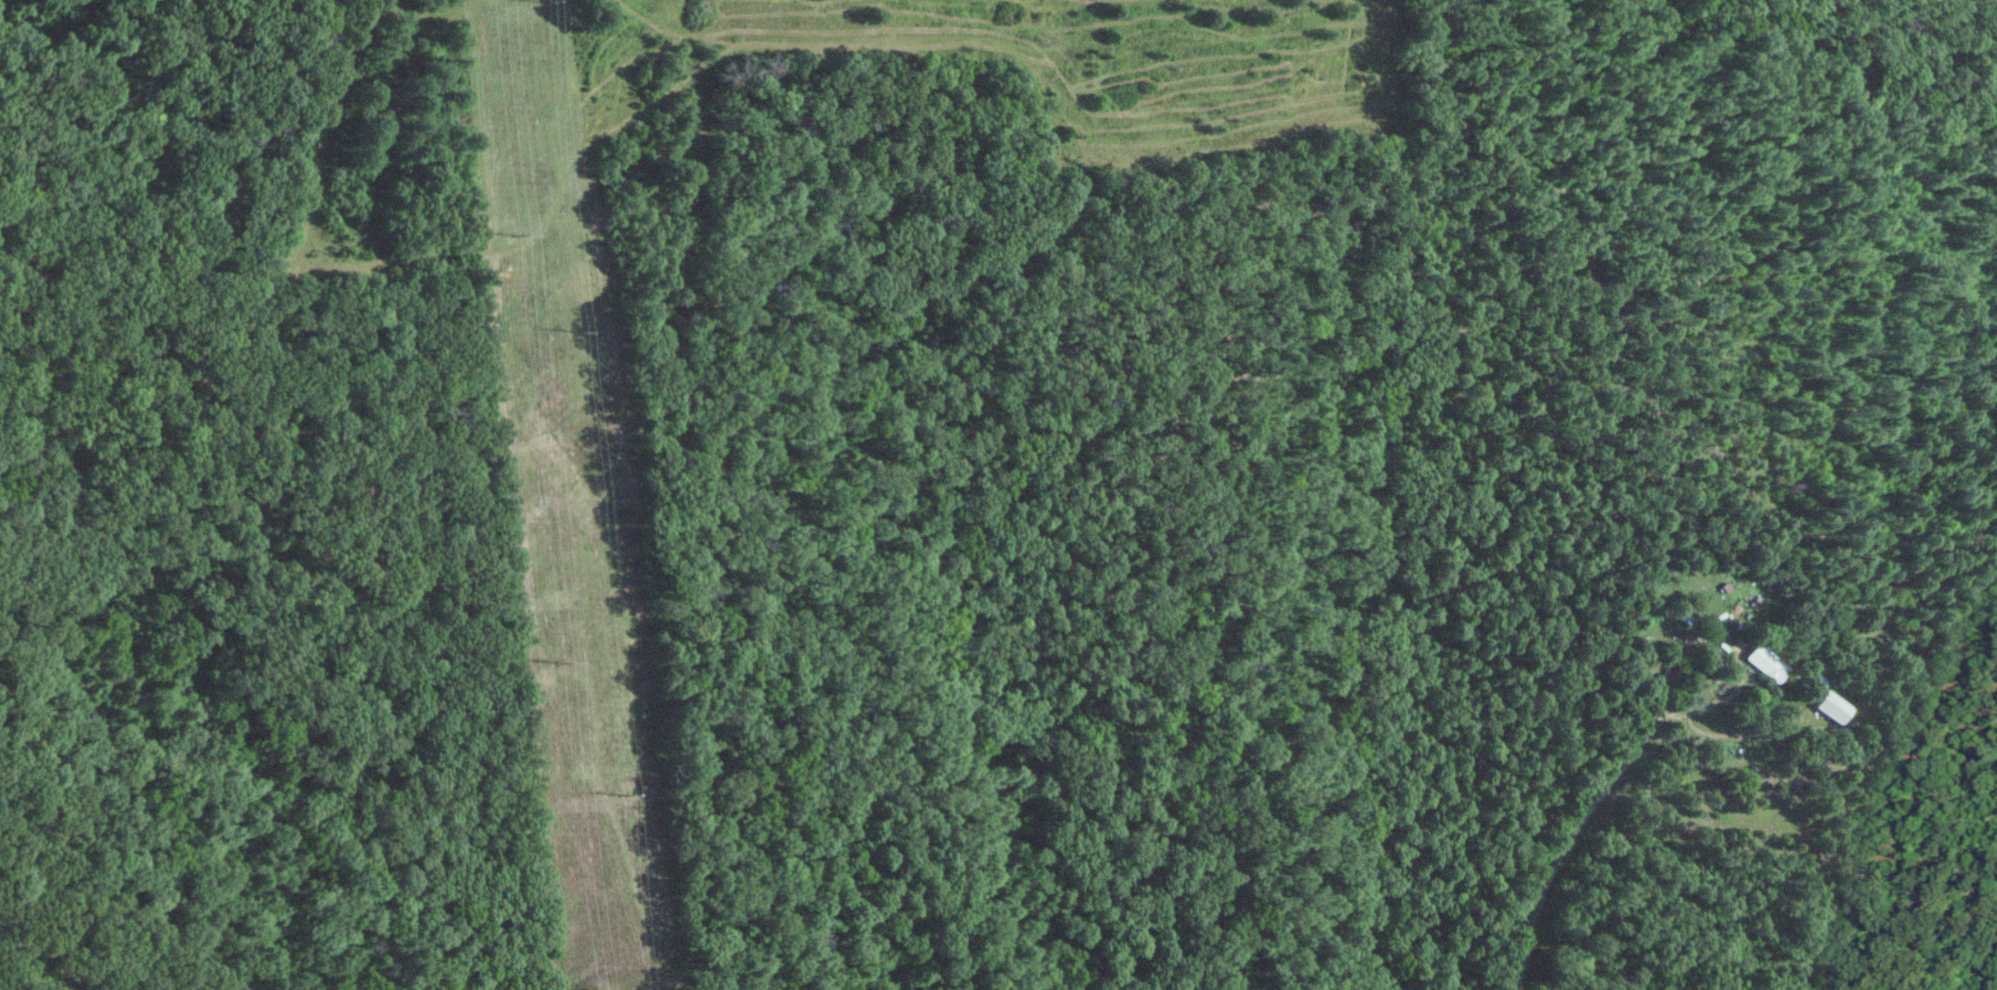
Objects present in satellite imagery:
building: (1765, 662)
building: (1831, 707)
road: (1577, 817)

